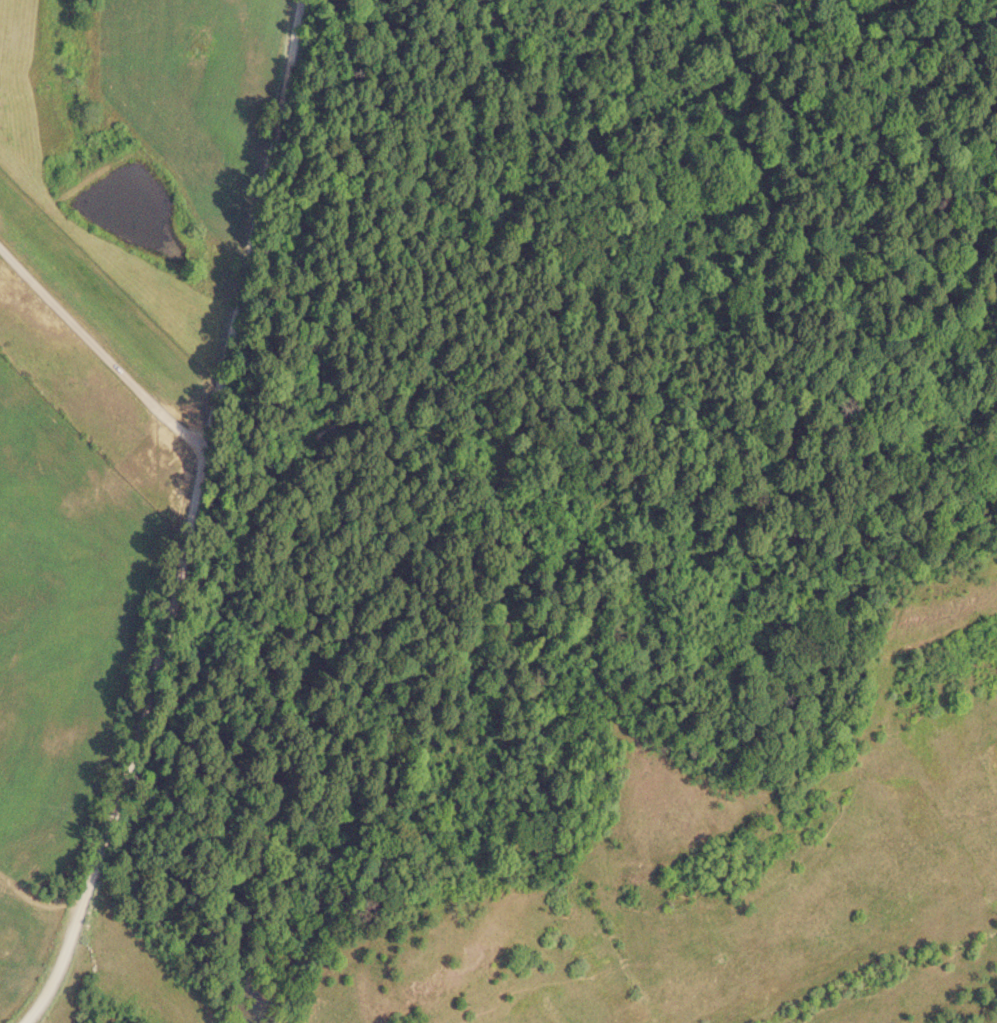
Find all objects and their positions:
road: (279, 253)
road: (105, 398)
road: (135, 775)

